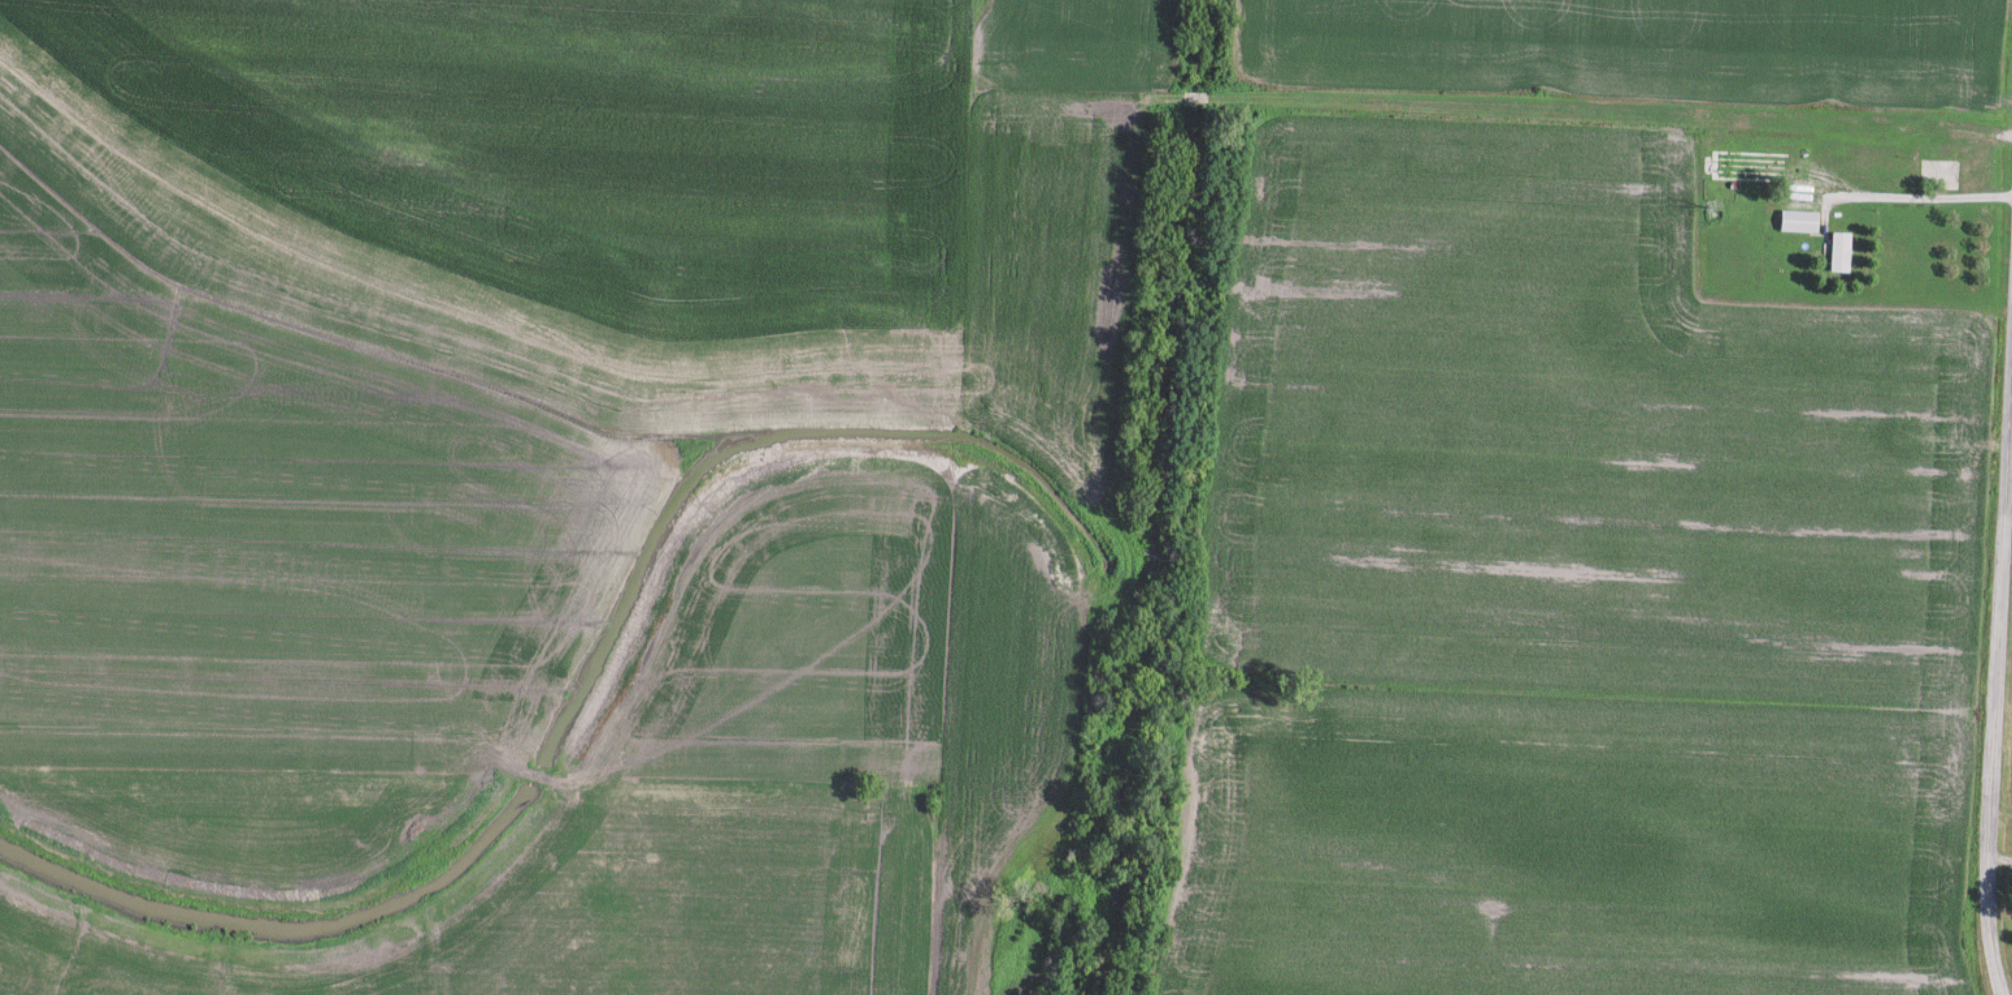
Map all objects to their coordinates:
building: (1714, 169)
road: (1901, 198)
building: (1793, 221)
building: (1835, 252)
road: (1995, 668)
road: (1999, 861)

